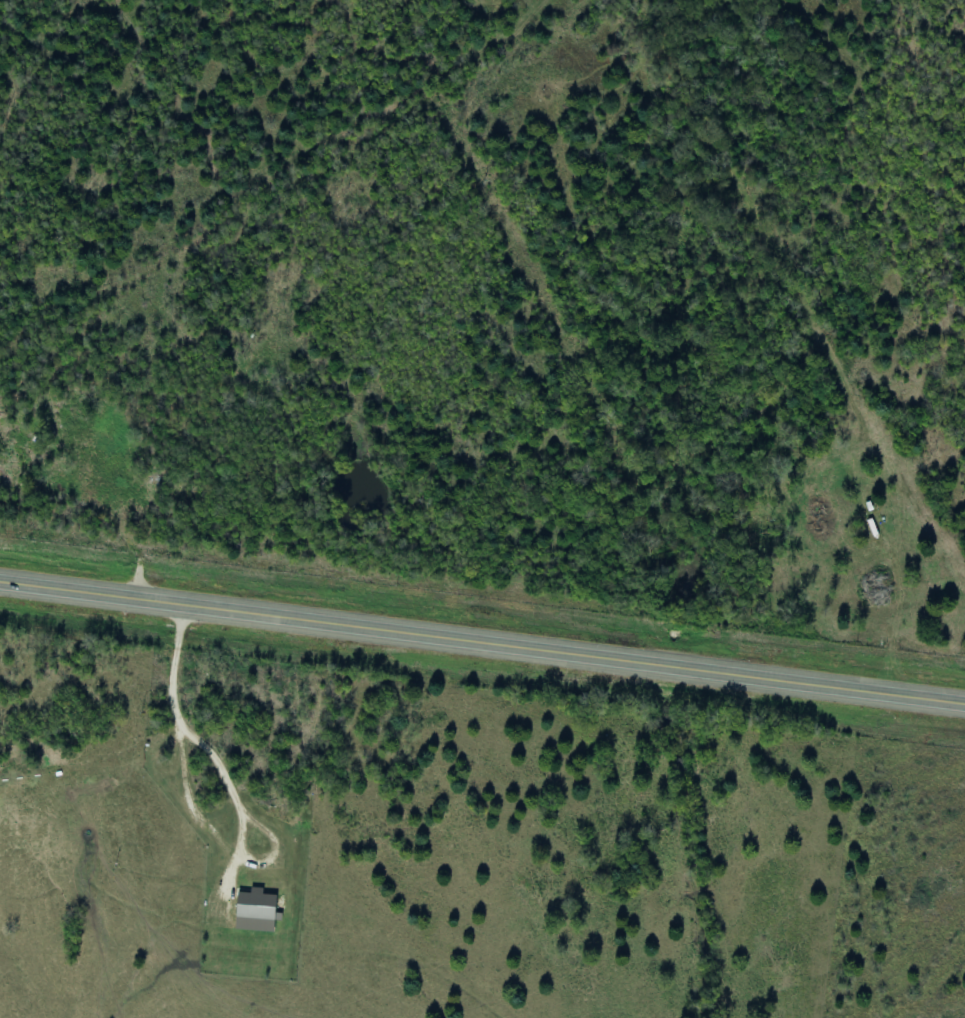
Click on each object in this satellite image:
road: (482, 637)
building: (257, 911)

